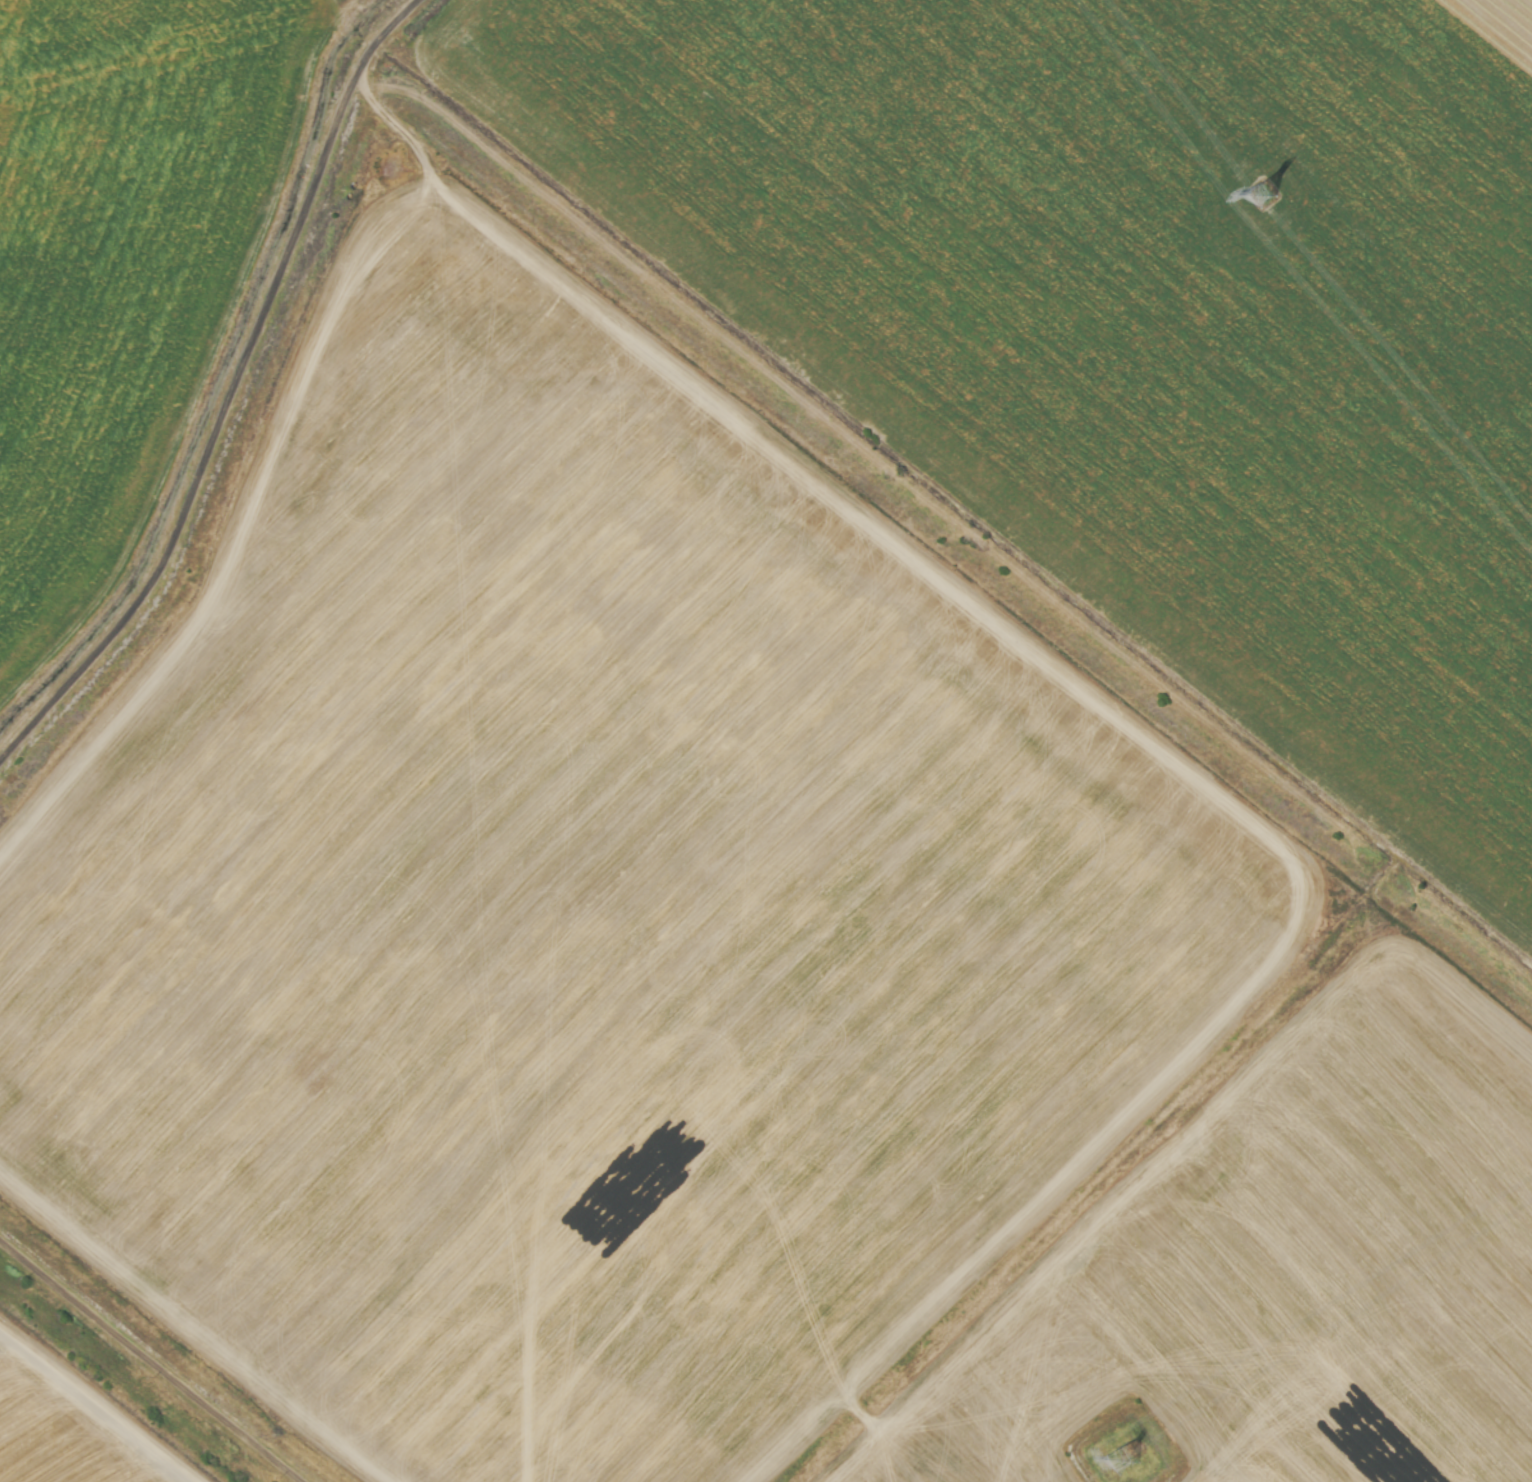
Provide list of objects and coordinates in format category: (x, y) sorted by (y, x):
power tower: (1262, 193)
road: (236, 396)
road: (151, 1360)
power tower: (1123, 1458)

